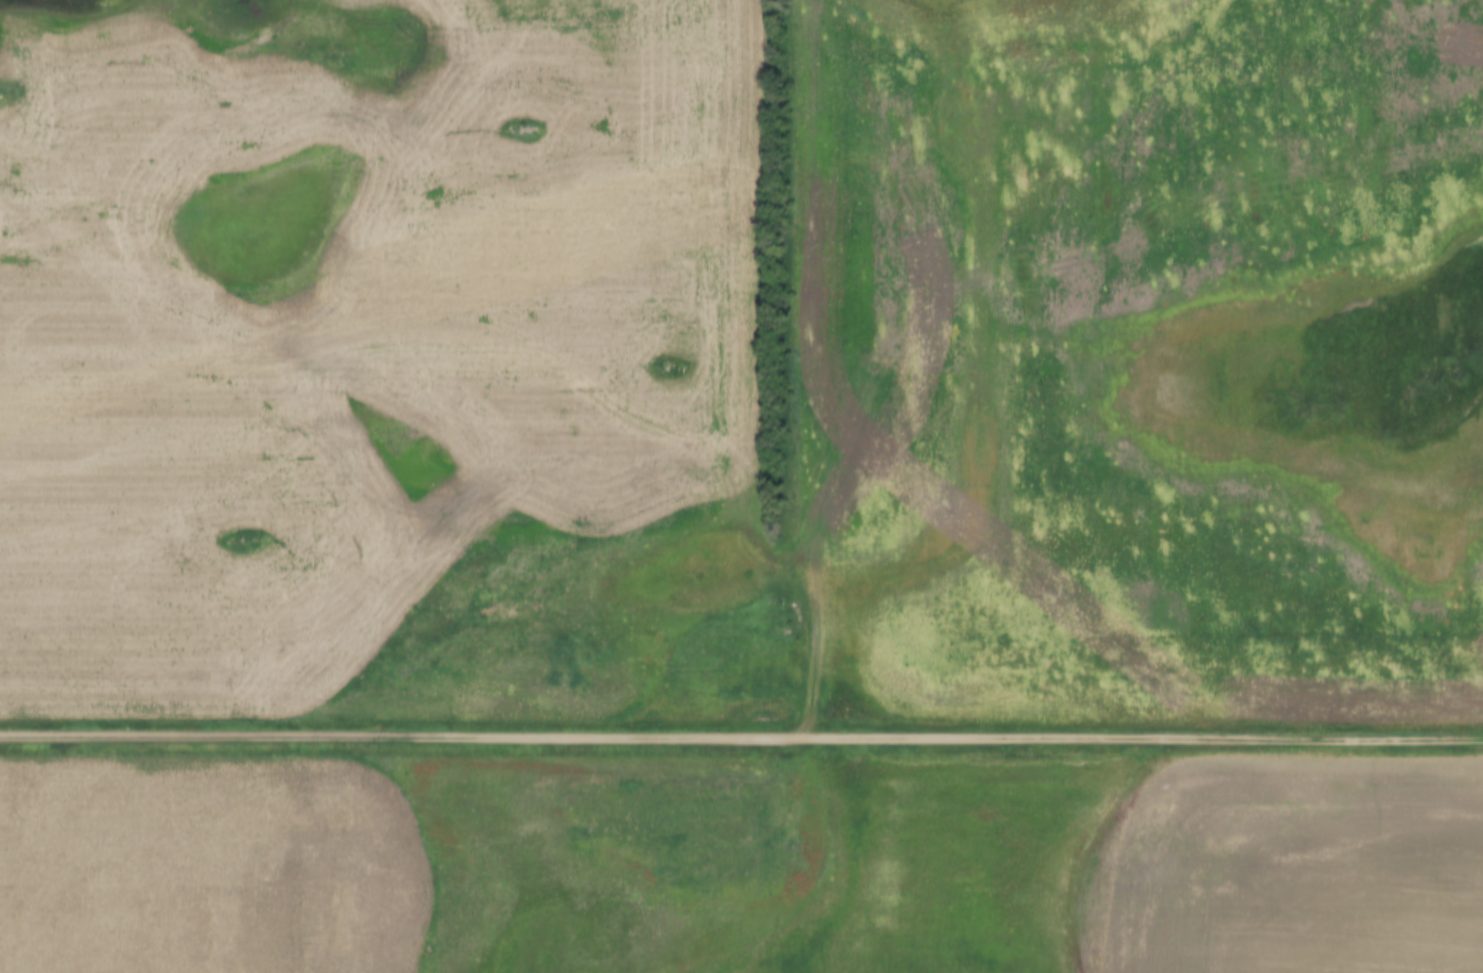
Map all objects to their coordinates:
road: (741, 737)

